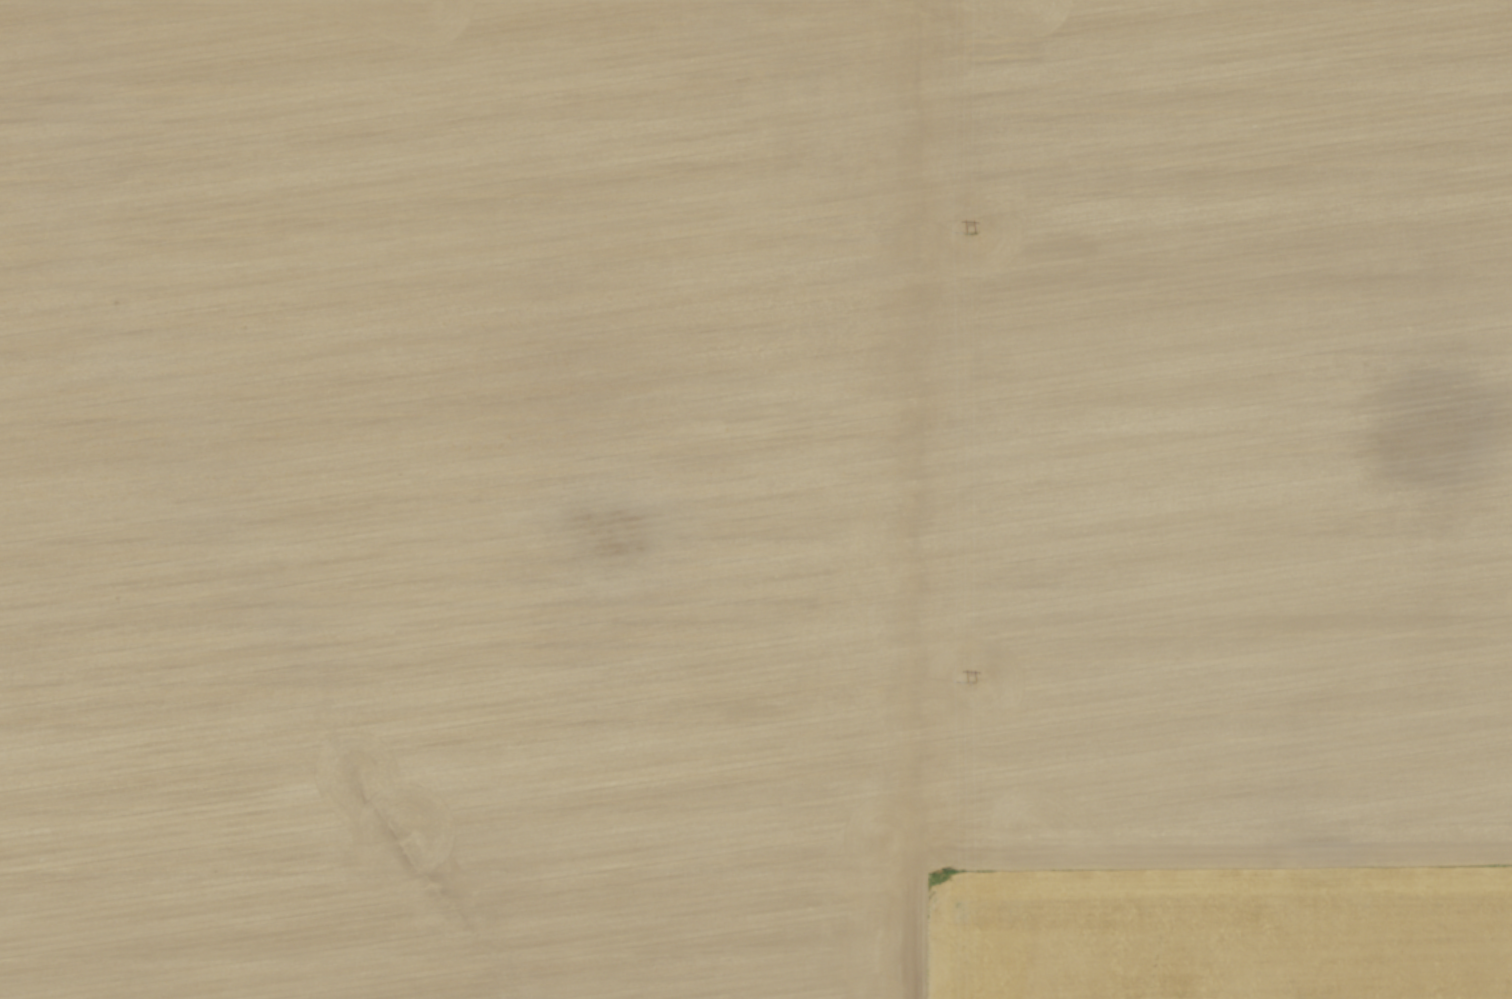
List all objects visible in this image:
power tower: (969, 234)
crop: (756, 499)
power tower: (970, 682)

